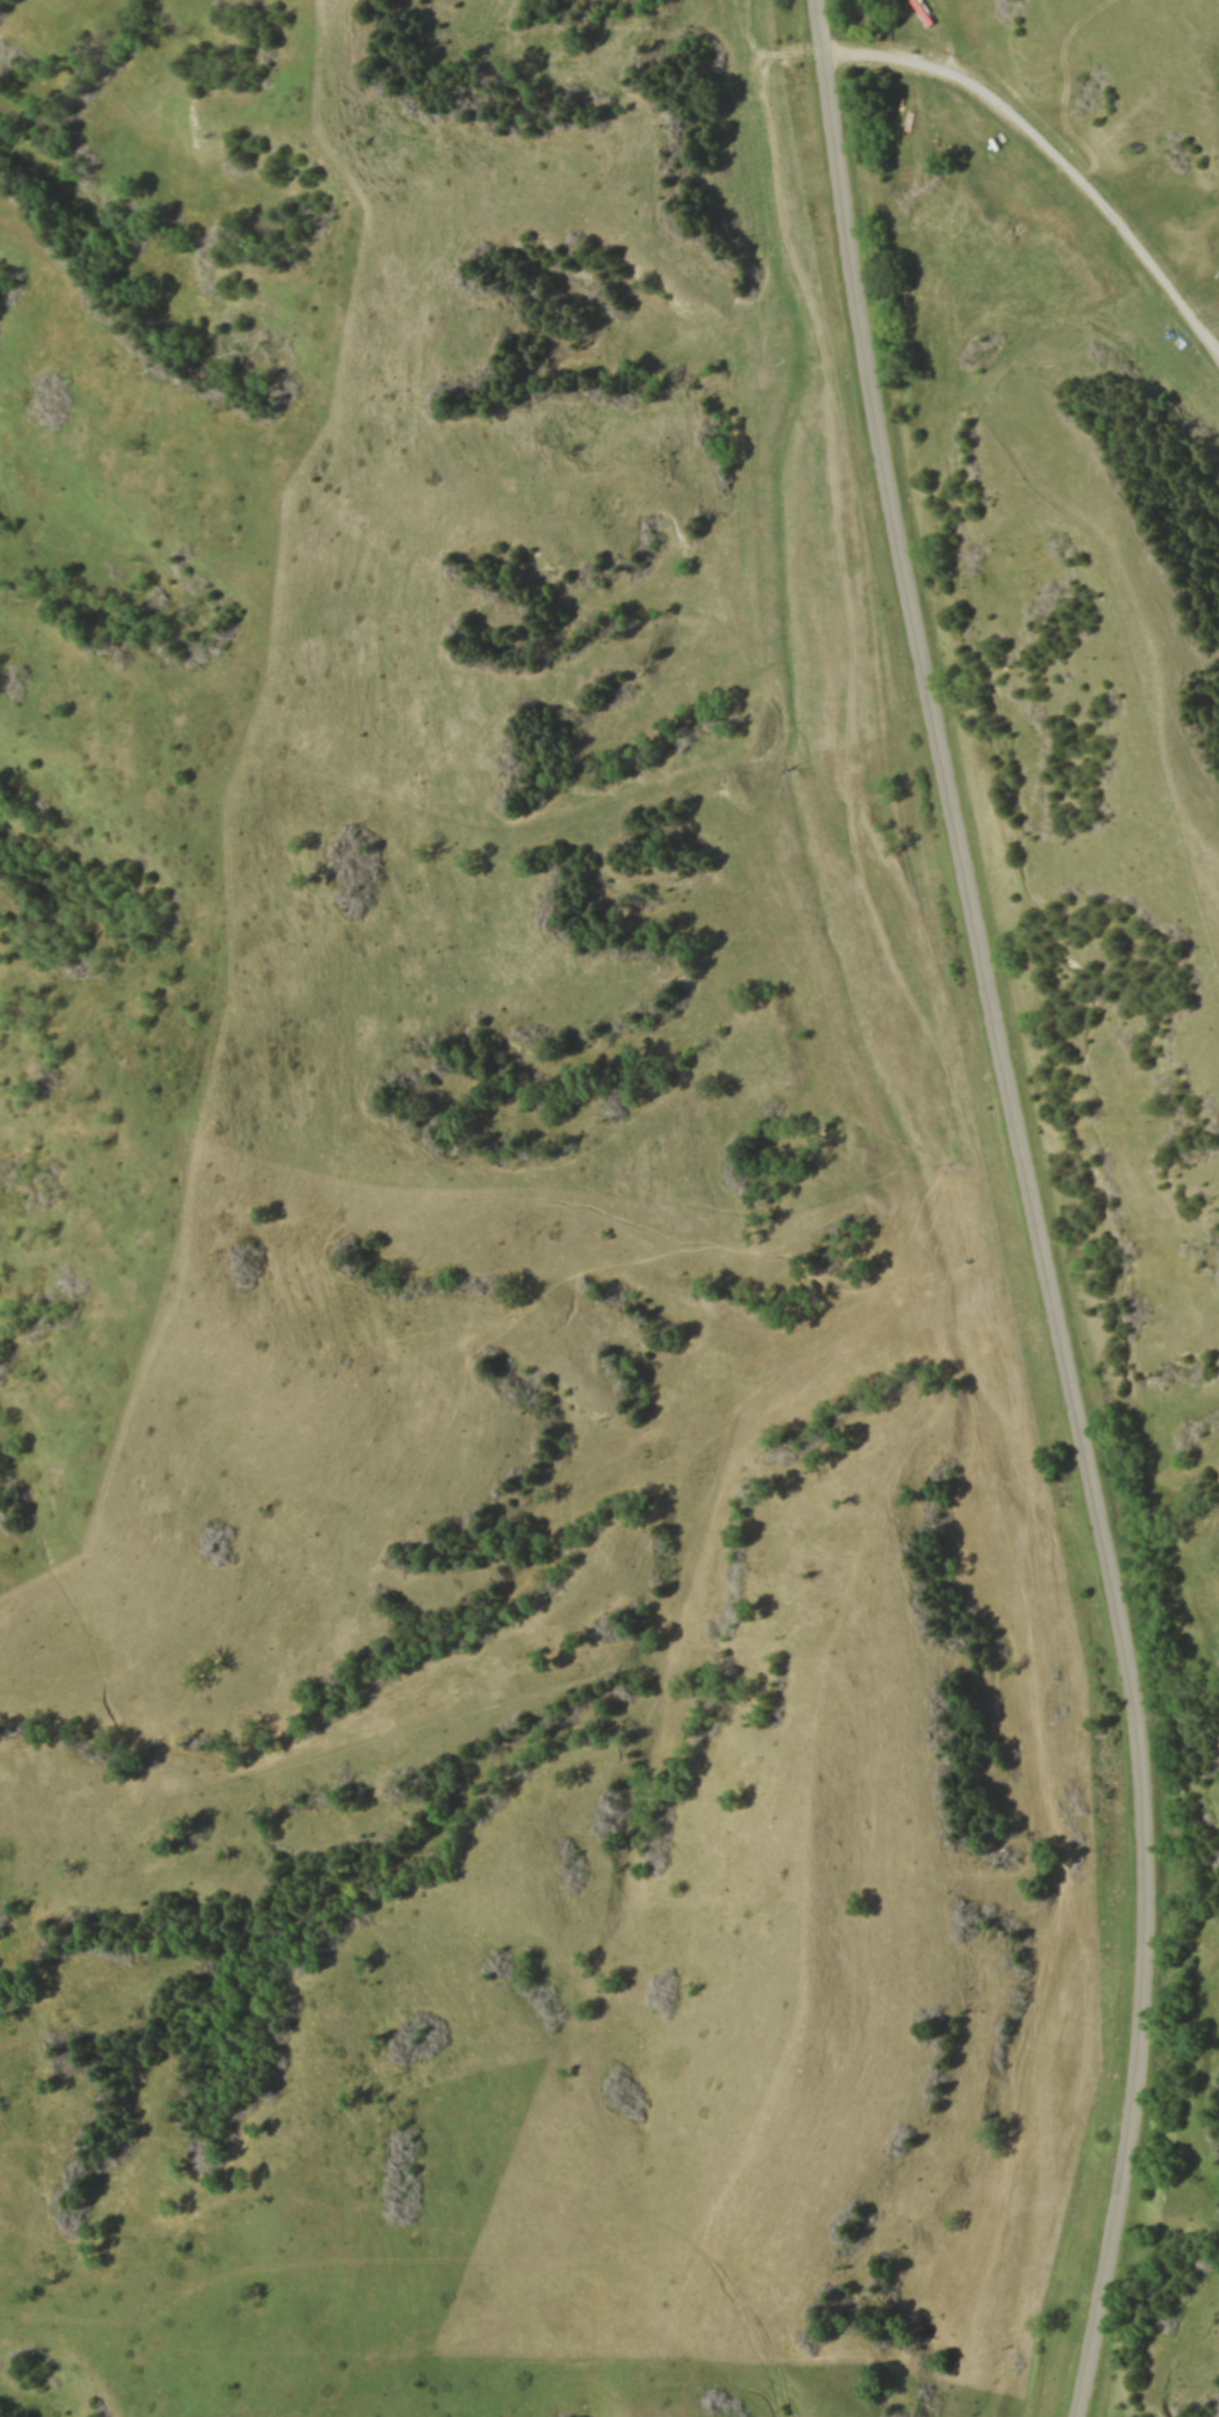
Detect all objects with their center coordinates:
road: (1033, 1206)

